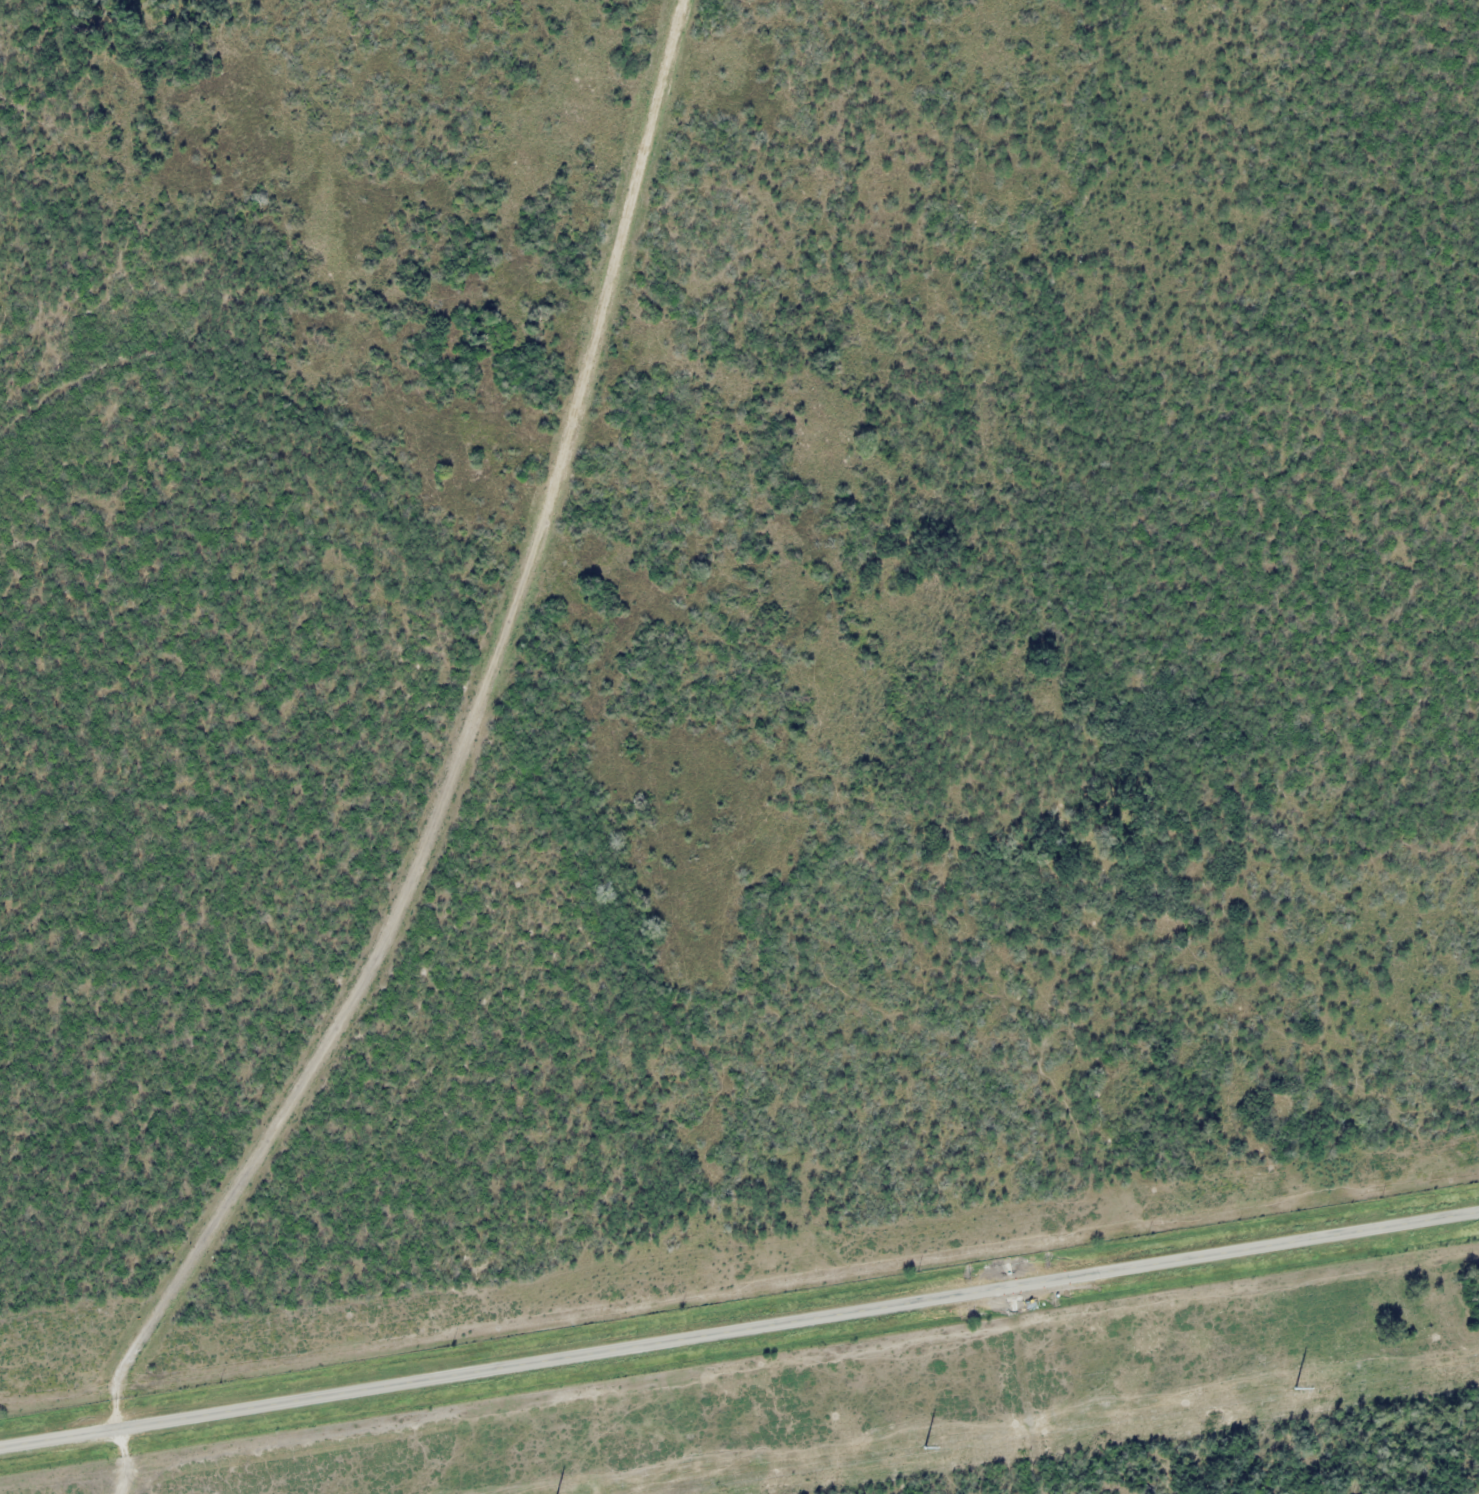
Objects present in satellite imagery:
road: (375, 772)
road: (739, 1326)
power tower: (1285, 1390)
power tower: (914, 1449)

